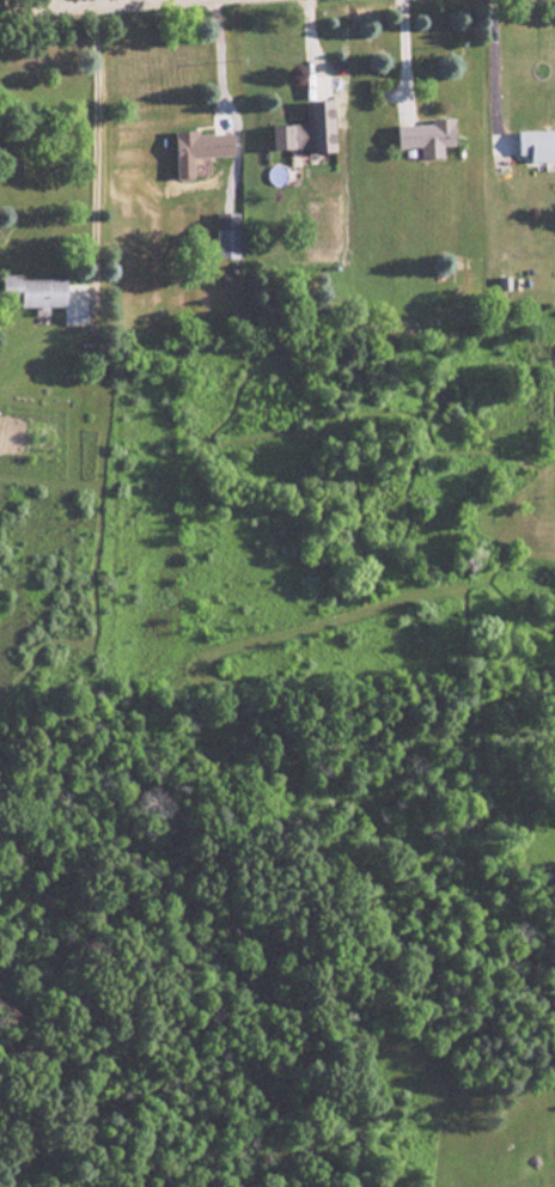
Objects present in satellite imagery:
road: (18, 1)
road: (398, 53)
road: (215, 59)
road: (493, 71)
building: (306, 129)
road: (94, 130)
building: (427, 133)
building: (536, 146)
building: (200, 148)
building: (227, 236)
building: (33, 291)

